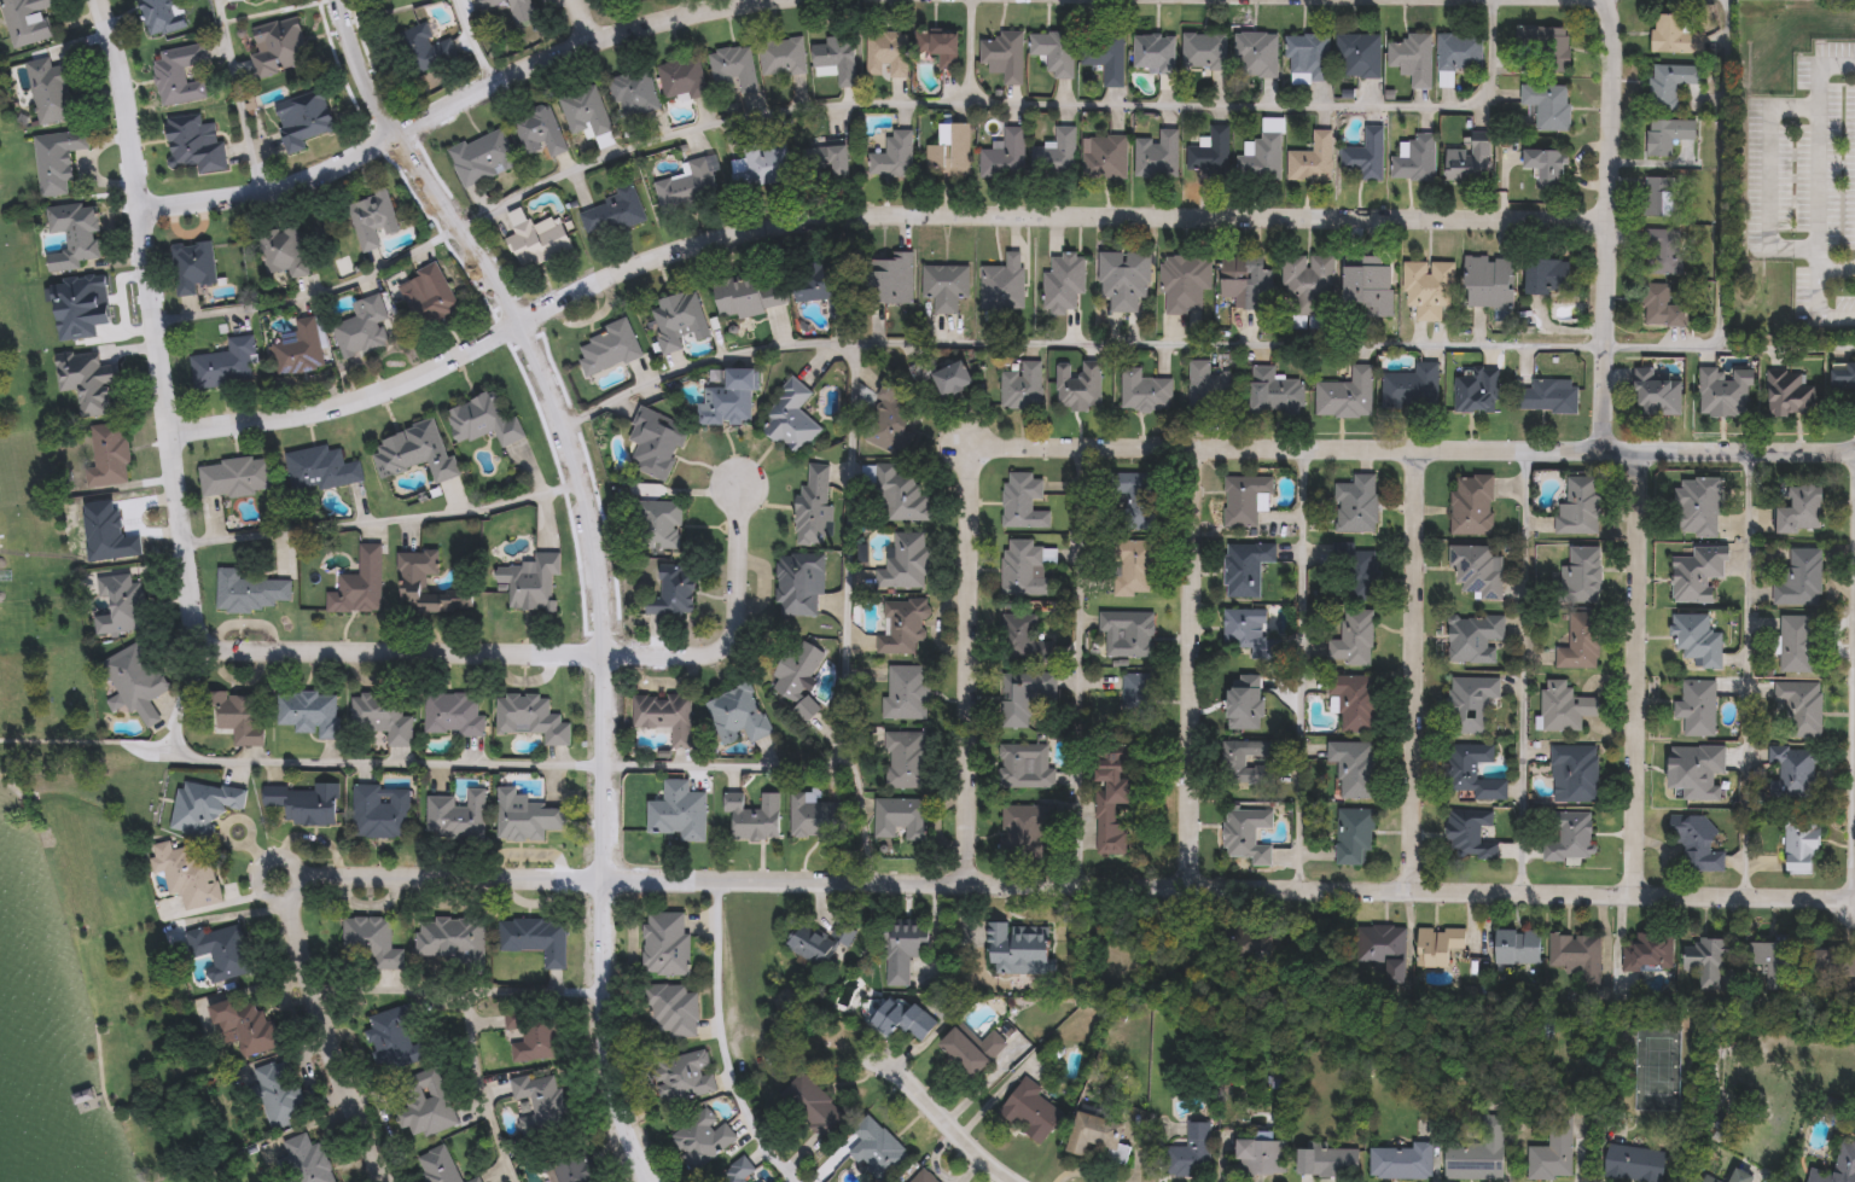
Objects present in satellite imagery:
building: (234, 0)
building: (386, 0)
road: (685, 7)
building: (514, 12)
building: (163, 16)
road: (585, 21)
building: (1674, 35)
road: (471, 42)
building: (1545, 46)
building: (940, 48)
building: (278, 50)
building: (424, 50)
building: (1056, 52)
building: (1204, 52)
building: (1155, 53)
building: (886, 54)
building: (1005, 54)
building: (1105, 56)
building: (1256, 56)
building: (1359, 56)
building: (1458, 56)
building: (1308, 57)
building: (783, 58)
building: (837, 58)
building: (1413, 58)
building: (733, 69)
building: (179, 74)
building: (682, 80)
building: (1670, 85)
building: (50, 91)
road: (233, 95)
building: (633, 95)
road: (449, 101)
road: (850, 101)
building: (1548, 106)
building: (586, 115)
building: (303, 122)
building: (539, 133)
building: (1667, 135)
building: (192, 145)
building: (1053, 147)
building: (949, 152)
building: (1157, 155)
building: (1263, 155)
building: (1209, 156)
building: (1365, 156)
building: (482, 157)
building: (894, 157)
building: (1005, 157)
building: (1104, 158)
building: (1313, 159)
building: (1415, 159)
building: (57, 161)
building: (825, 162)
building: (1469, 162)
building: (764, 164)
building: (1546, 167)
road: (1723, 173)
road: (1814, 177)
building: (690, 186)
building: (1659, 197)
building: (614, 214)
road: (866, 217)
building: (371, 219)
road: (1604, 225)
building: (72, 235)
building: (536, 239)
building: (283, 252)
building: (1662, 252)
building: (192, 267)
building: (1547, 276)
building: (889, 279)
building: (1124, 279)
building: (1241, 280)
building: (1488, 281)
building: (1063, 283)
building: (1185, 283)
building: (821, 284)
building: (1004, 284)
building: (1309, 285)
building: (944, 286)
building: (1427, 287)
building: (1367, 290)
building: (430, 297)
building: (746, 298)
building: (1661, 307)
building: (676, 320)
building: (367, 326)
road: (1342, 345)
building: (300, 348)
building: (607, 348)
building: (223, 363)
building: (1843, 374)
building: (944, 375)
building: (87, 380)
building: (1209, 385)
building: (1022, 386)
building: (1078, 386)
building: (1411, 386)
building: (1145, 391)
building: (1274, 391)
building: (1725, 391)
building: (1476, 392)
building: (1656, 392)
building: (1790, 394)
building: (1345, 395)
building: (1547, 396)
building: (727, 400)
road: (849, 406)
building: (791, 418)
building: (888, 418)
building: (483, 420)
building: (656, 443)
road: (1194, 448)
building: (414, 452)
building: (106, 455)
building: (320, 468)
building: (235, 476)
building: (902, 495)
building: (1135, 499)
building: (1244, 499)
building: (1023, 501)
building: (1356, 505)
building: (1471, 505)
building: (1577, 505)
building: (1696, 505)
building: (813, 507)
building: (1801, 511)
road: (384, 520)
road: (181, 522)
building: (658, 524)
building: (107, 532)
road: (600, 563)
building: (905, 563)
building: (1245, 566)
building: (1132, 567)
building: (1024, 569)
building: (1477, 570)
building: (1355, 573)
building: (1694, 575)
building: (1580, 576)
building: (1801, 578)
building: (529, 582)
building: (799, 583)
building: (359, 584)
building: (424, 586)
building: (673, 592)
building: (248, 593)
building: (120, 604)
building: (903, 625)
road: (734, 627)
building: (1128, 631)
building: (1248, 633)
building: (1475, 637)
building: (1582, 637)
building: (1023, 639)
building: (1353, 639)
building: (1697, 640)
building: (1796, 644)
road: (1080, 666)
road: (1192, 666)
road: (1299, 668)
road: (1415, 669)
road: (1522, 671)
road: (1639, 672)
road: (1745, 674)
building: (797, 676)
building: (135, 680)
building: (907, 692)
building: (1028, 699)
building: (1136, 700)
building: (1354, 700)
building: (1470, 704)
building: (1564, 705)
building: (1697, 706)
building: (1801, 708)
building: (307, 714)
building: (453, 714)
building: (739, 714)
building: (665, 716)
building: (530, 717)
building: (238, 718)
building: (380, 718)
building: (906, 759)
building: (1245, 761)
building: (1023, 764)
road: (566, 765)
building: (1354, 767)
building: (1577, 770)
building: (1697, 770)
building: (1472, 771)
building: (1792, 771)
building: (1111, 802)
building: (306, 803)
building: (203, 805)
building: (380, 811)
building: (676, 811)
building: (458, 815)
building: (815, 815)
building: (525, 816)
building: (755, 817)
building: (899, 819)
building: (1023, 829)
building: (1244, 833)
building: (1469, 833)
building: (1354, 835)
building: (1568, 835)
building: (1697, 842)
building: (1801, 846)
road: (261, 866)
building: (187, 873)
road: (1231, 886)
road: (297, 889)
building: (450, 937)
building: (535, 939)
building: (370, 944)
building: (814, 944)
building: (1518, 947)
building: (667, 948)
building: (1018, 948)
building: (1383, 948)
building: (1438, 948)
building: (221, 951)
building: (905, 951)
building: (1647, 951)
building: (1575, 953)
building: (1774, 956)
building: (1705, 961)
building: (1834, 963)
road: (460, 1001)
building: (671, 1009)
building: (903, 1020)
building: (248, 1025)
building: (534, 1040)
building: (392, 1042)
road: (723, 1042)
building: (971, 1050)
building: (684, 1077)
road: (481, 1093)
building: (277, 1097)
building: (421, 1104)
building: (813, 1106)
building: (546, 1108)
building: (1030, 1111)
road: (947, 1122)
building: (1093, 1134)
building: (702, 1139)
building: (877, 1149)
building: (1477, 1152)
building: (1188, 1153)
building: (1553, 1153)
building: (306, 1158)
building: (1260, 1158)
building: (1325, 1163)
building: (1402, 1163)
building: (1634, 1164)
building: (438, 1165)
building: (1841, 1165)
building: (571, 1169)
building: (738, 1172)
building: (1740, 1176)
building: (923, 1177)
building: (1709, 1178)
building: (473, 1180)
road: (791, 1180)

